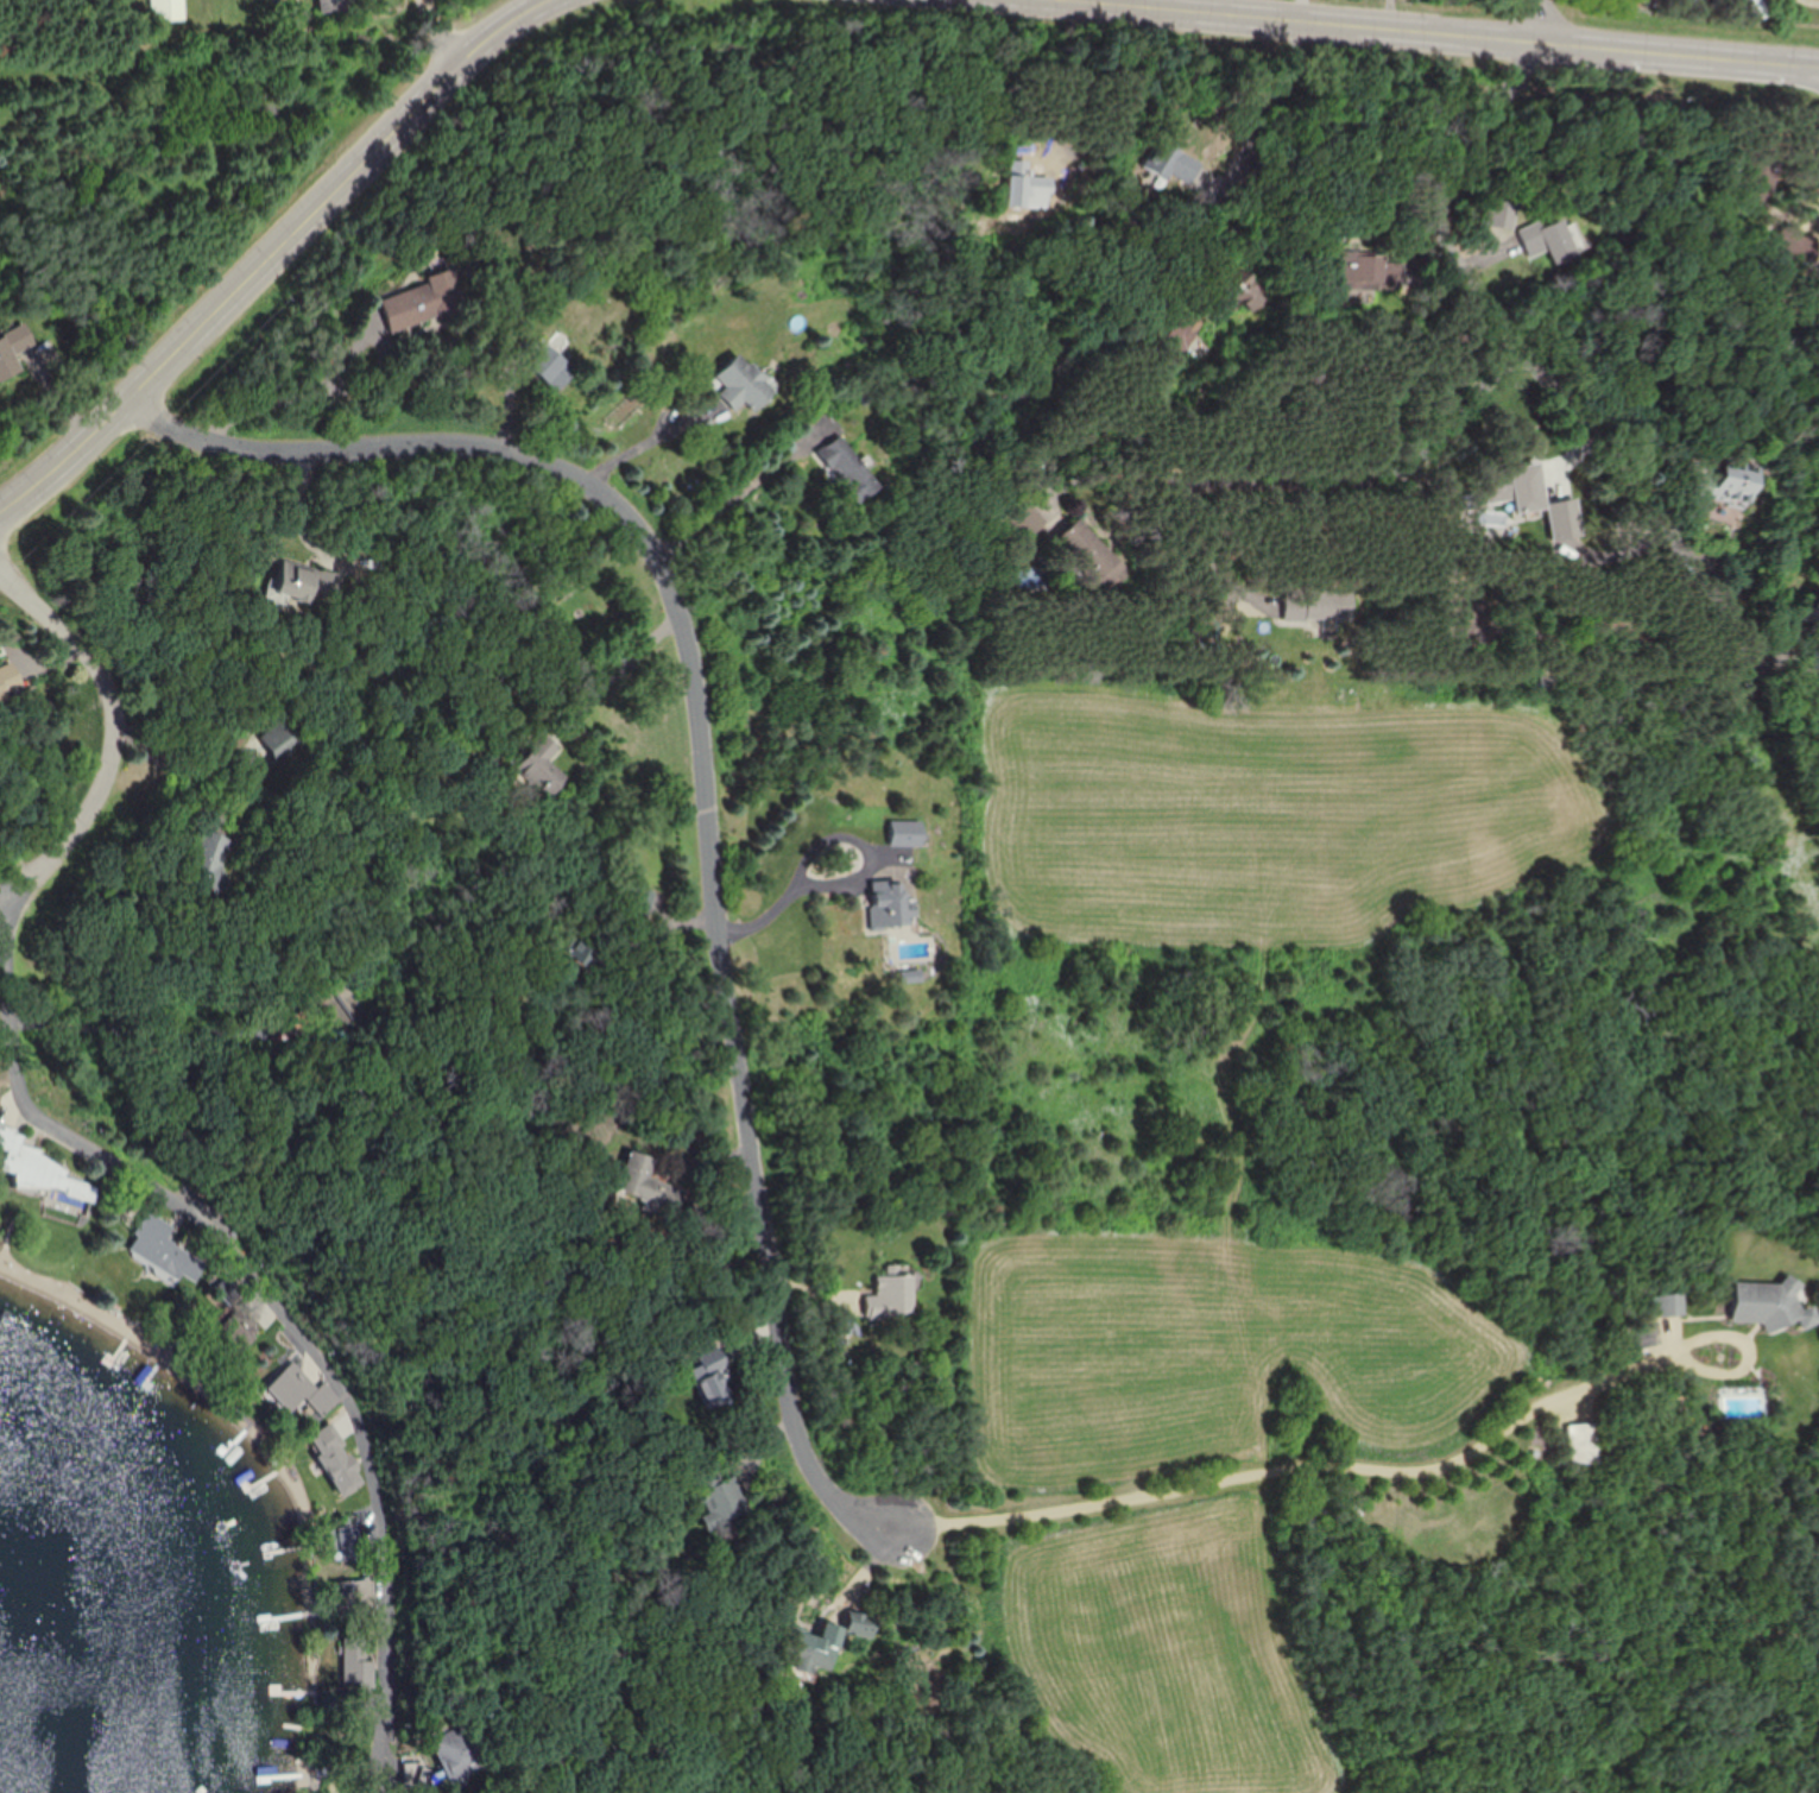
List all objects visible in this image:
road: (1074, 1)
building: (336, 5)
building: (170, 10)
park: (1654, 14)
road: (1549, 24)
road: (1425, 34)
road: (434, 43)
road: (1264, 119)
building: (1167, 160)
building: (1552, 239)
road: (278, 247)
building: (1366, 269)
building: (423, 301)
building: (13, 349)
road: (1534, 354)
building: (554, 367)
building: (743, 383)
road: (299, 400)
road: (650, 446)
building: (847, 467)
road: (1315, 479)
building: (1729, 488)
building: (1526, 491)
road: (730, 501)
building: (1093, 550)
building: (309, 582)
building: (1319, 607)
building: (1814, 613)
building: (1814, 657)
building: (10, 681)
road: (610, 683)
building: (271, 746)
building: (541, 769)
road: (705, 782)
building: (907, 833)
road: (789, 861)
building: (211, 864)
road: (23, 876)
building: (889, 903)
building: (582, 953)
building: (912, 976)
building: (303, 1019)
road: (139, 1035)
building: (39, 1168)
road: (121, 1169)
building: (649, 1183)
building: (178, 1264)
building: (228, 1289)
building: (895, 1296)
building: (1670, 1303)
building: (1770, 1303)
road: (1705, 1343)
building: (713, 1377)
building: (302, 1391)
building: (1584, 1442)
building: (334, 1454)
road: (1305, 1466)
building: (722, 1501)
building: (348, 1541)
building: (356, 1597)
building: (860, 1623)
building: (815, 1643)
building: (359, 1661)
building: (459, 1750)

